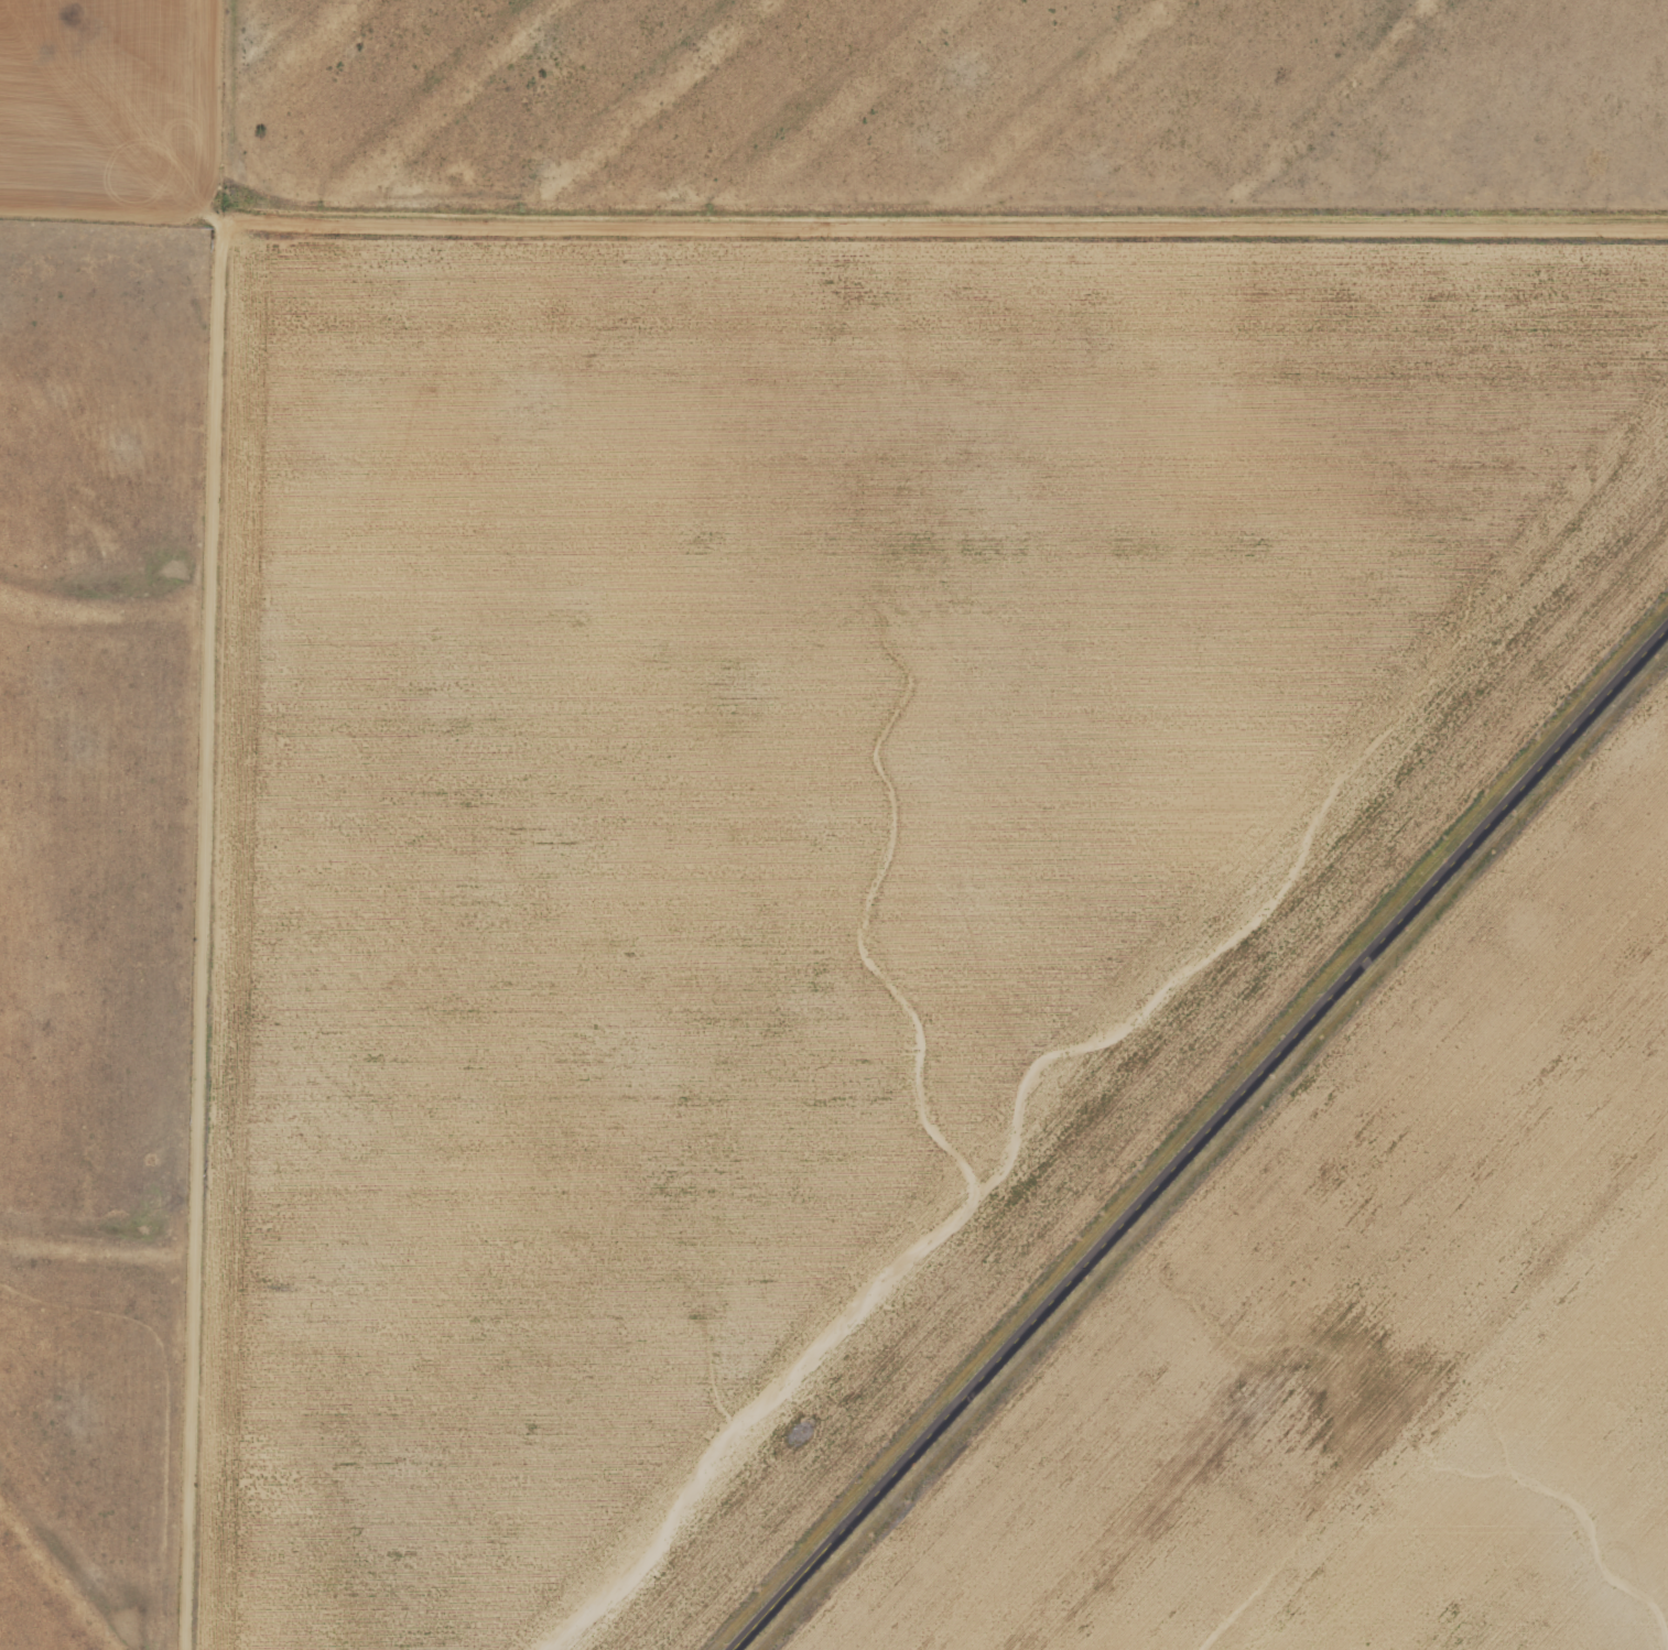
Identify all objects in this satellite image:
road: (238, 222)
road: (127, 262)
railway: (1172, 1114)
road: (1205, 1146)

